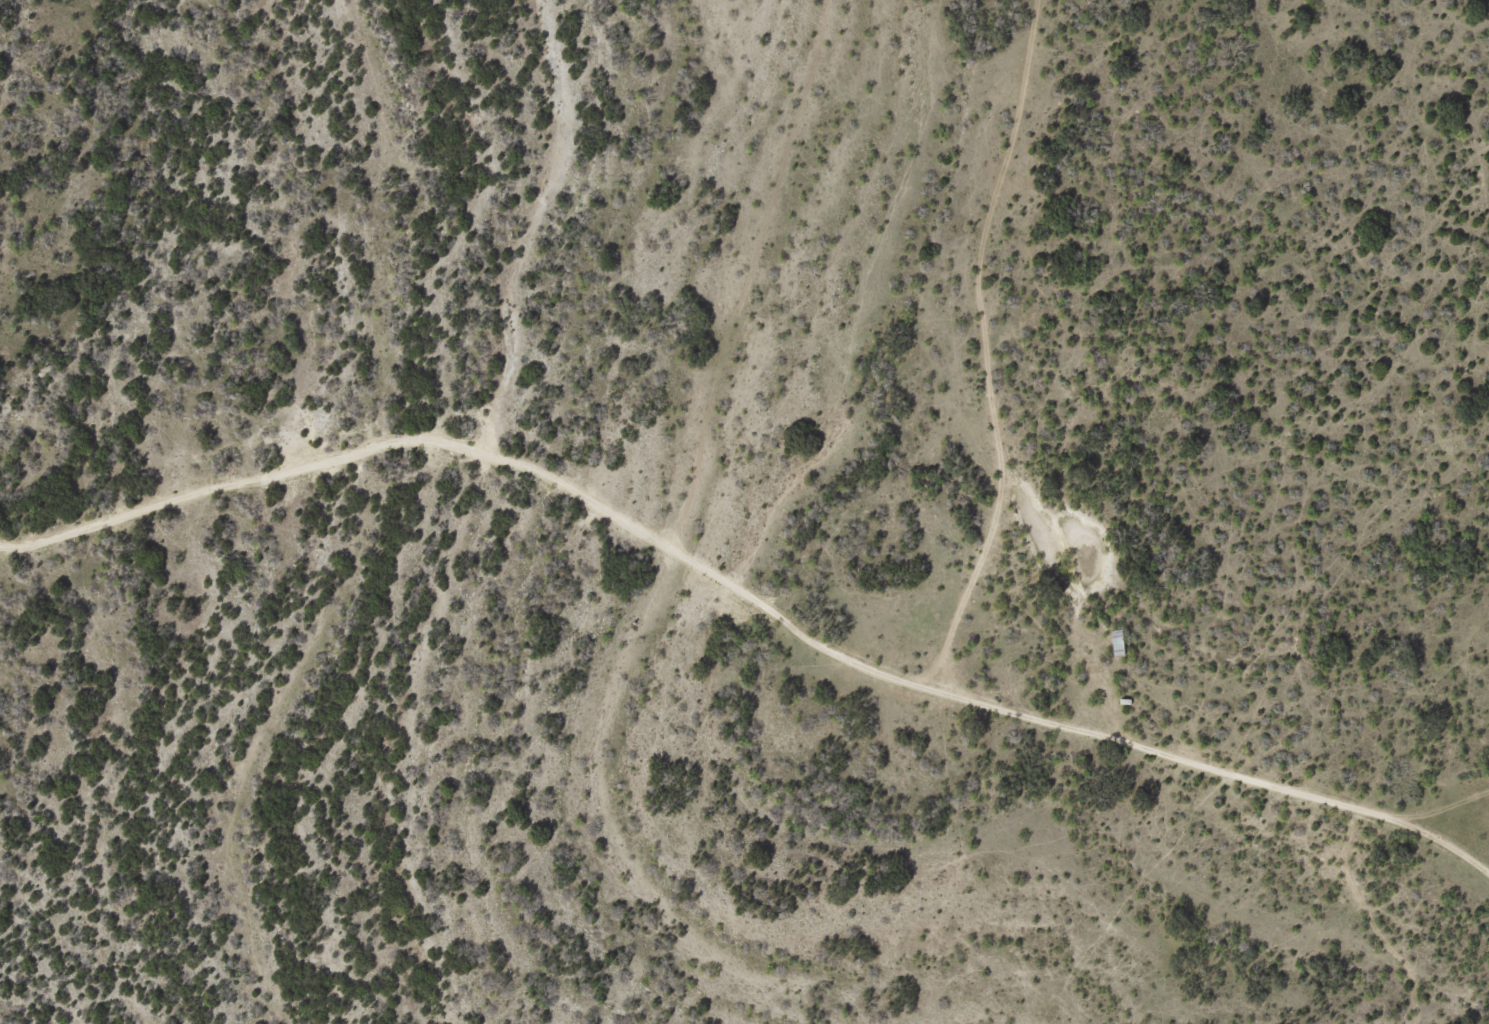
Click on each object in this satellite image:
road: (975, 164)
road: (966, 495)
road: (750, 580)
building: (1114, 644)
road: (1438, 865)

